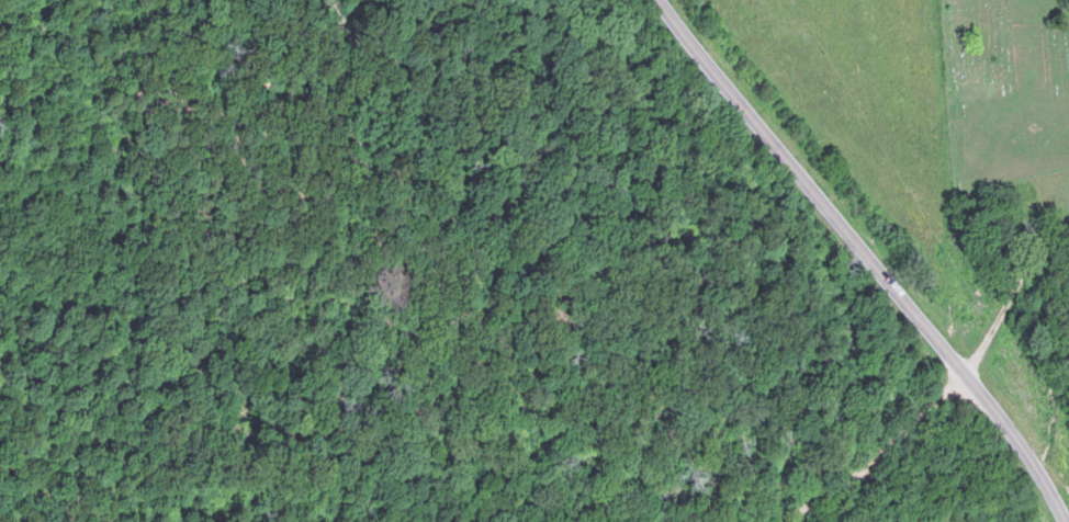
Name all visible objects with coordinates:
park: (1012, 109)
road: (868, 257)

